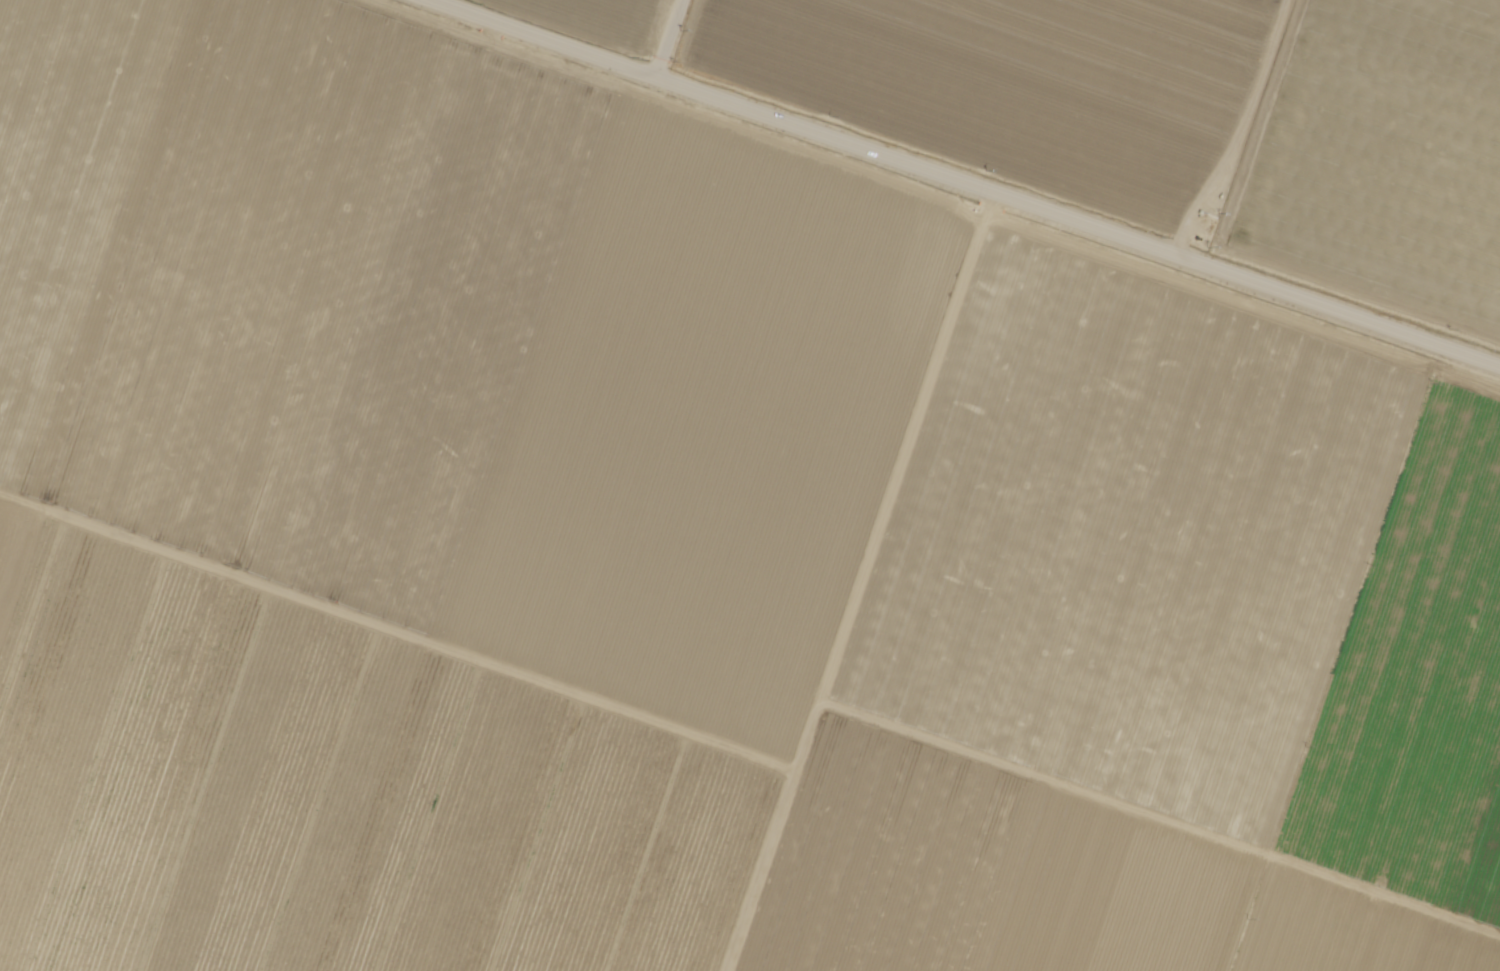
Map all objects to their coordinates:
crop: (605, 19)
road: (669, 39)
crop: (1017, 83)
crop: (1381, 155)
road: (962, 182)
crop: (456, 342)
crop: (1202, 575)
crop: (330, 792)
crop: (1039, 883)

